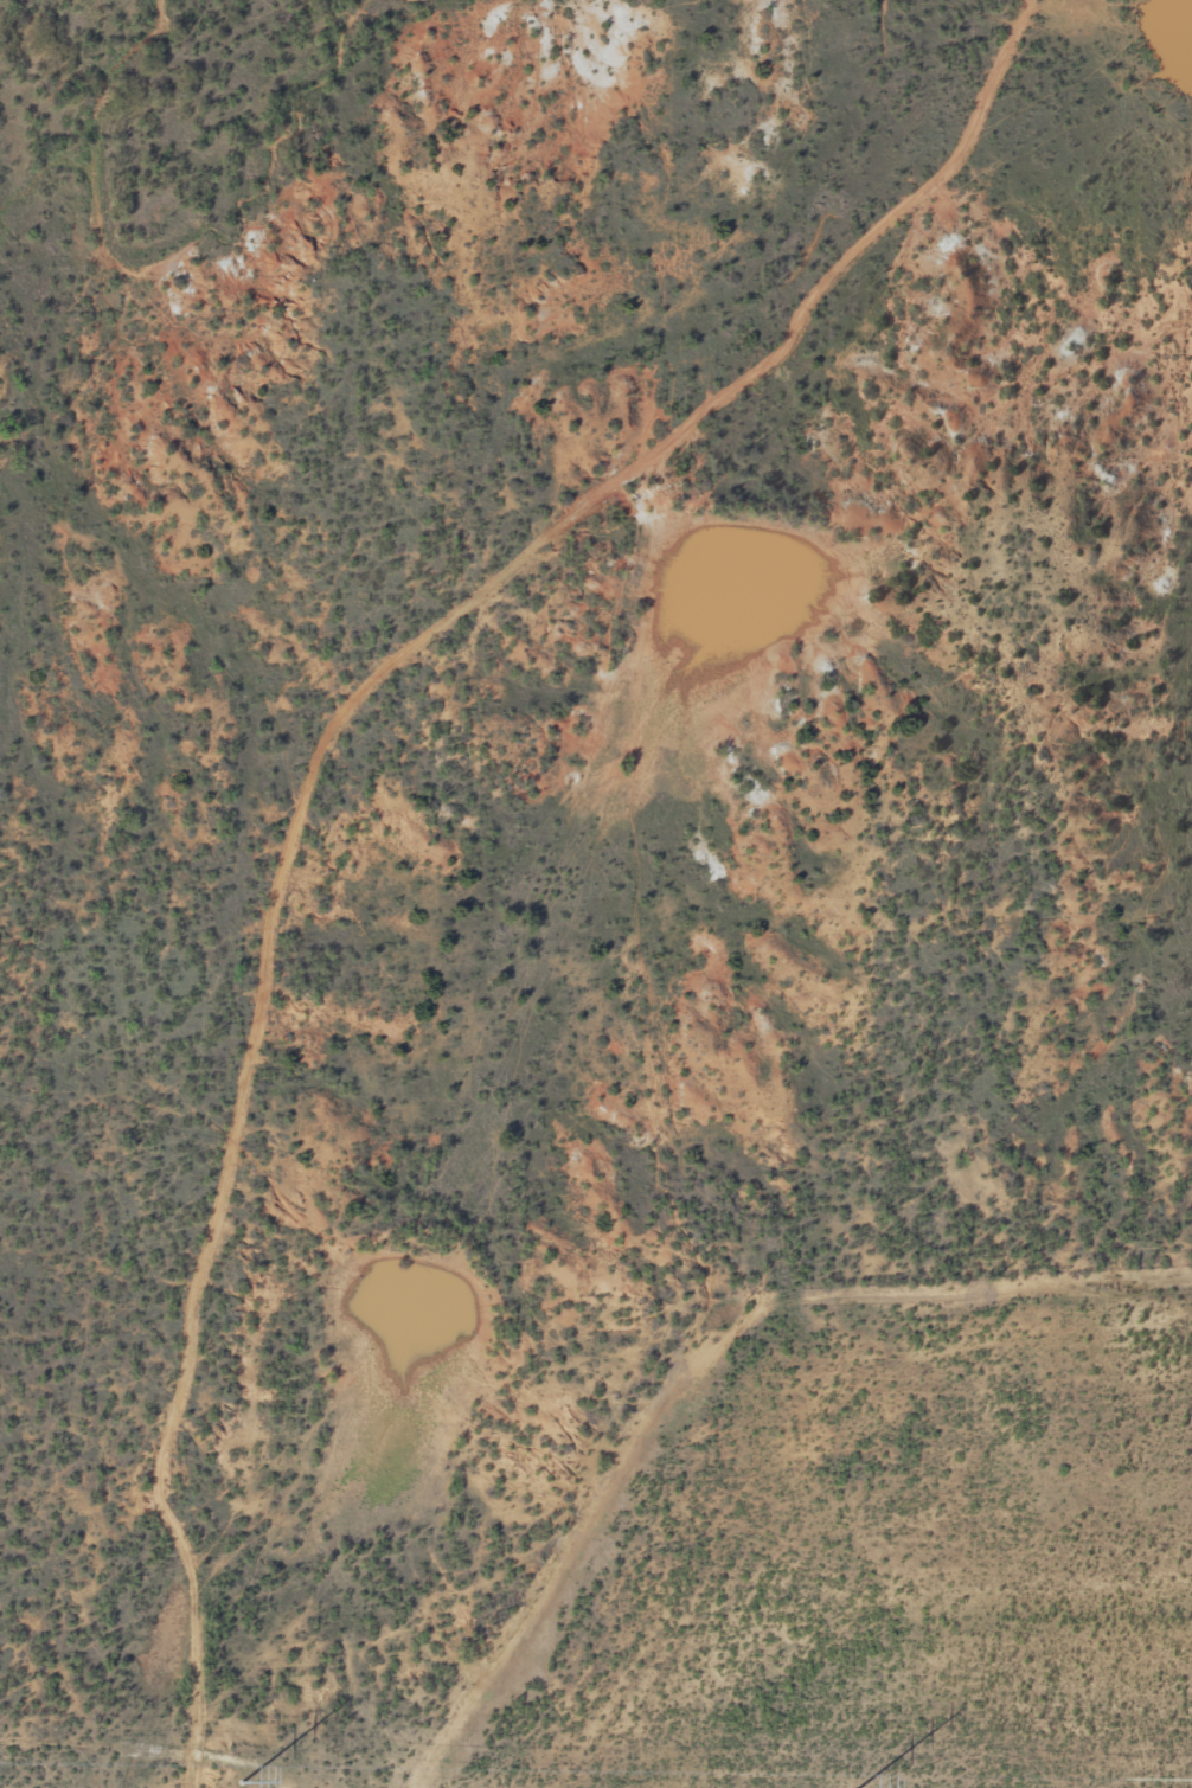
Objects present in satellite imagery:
road: (334, 769)
power tower: (241, 1781)

